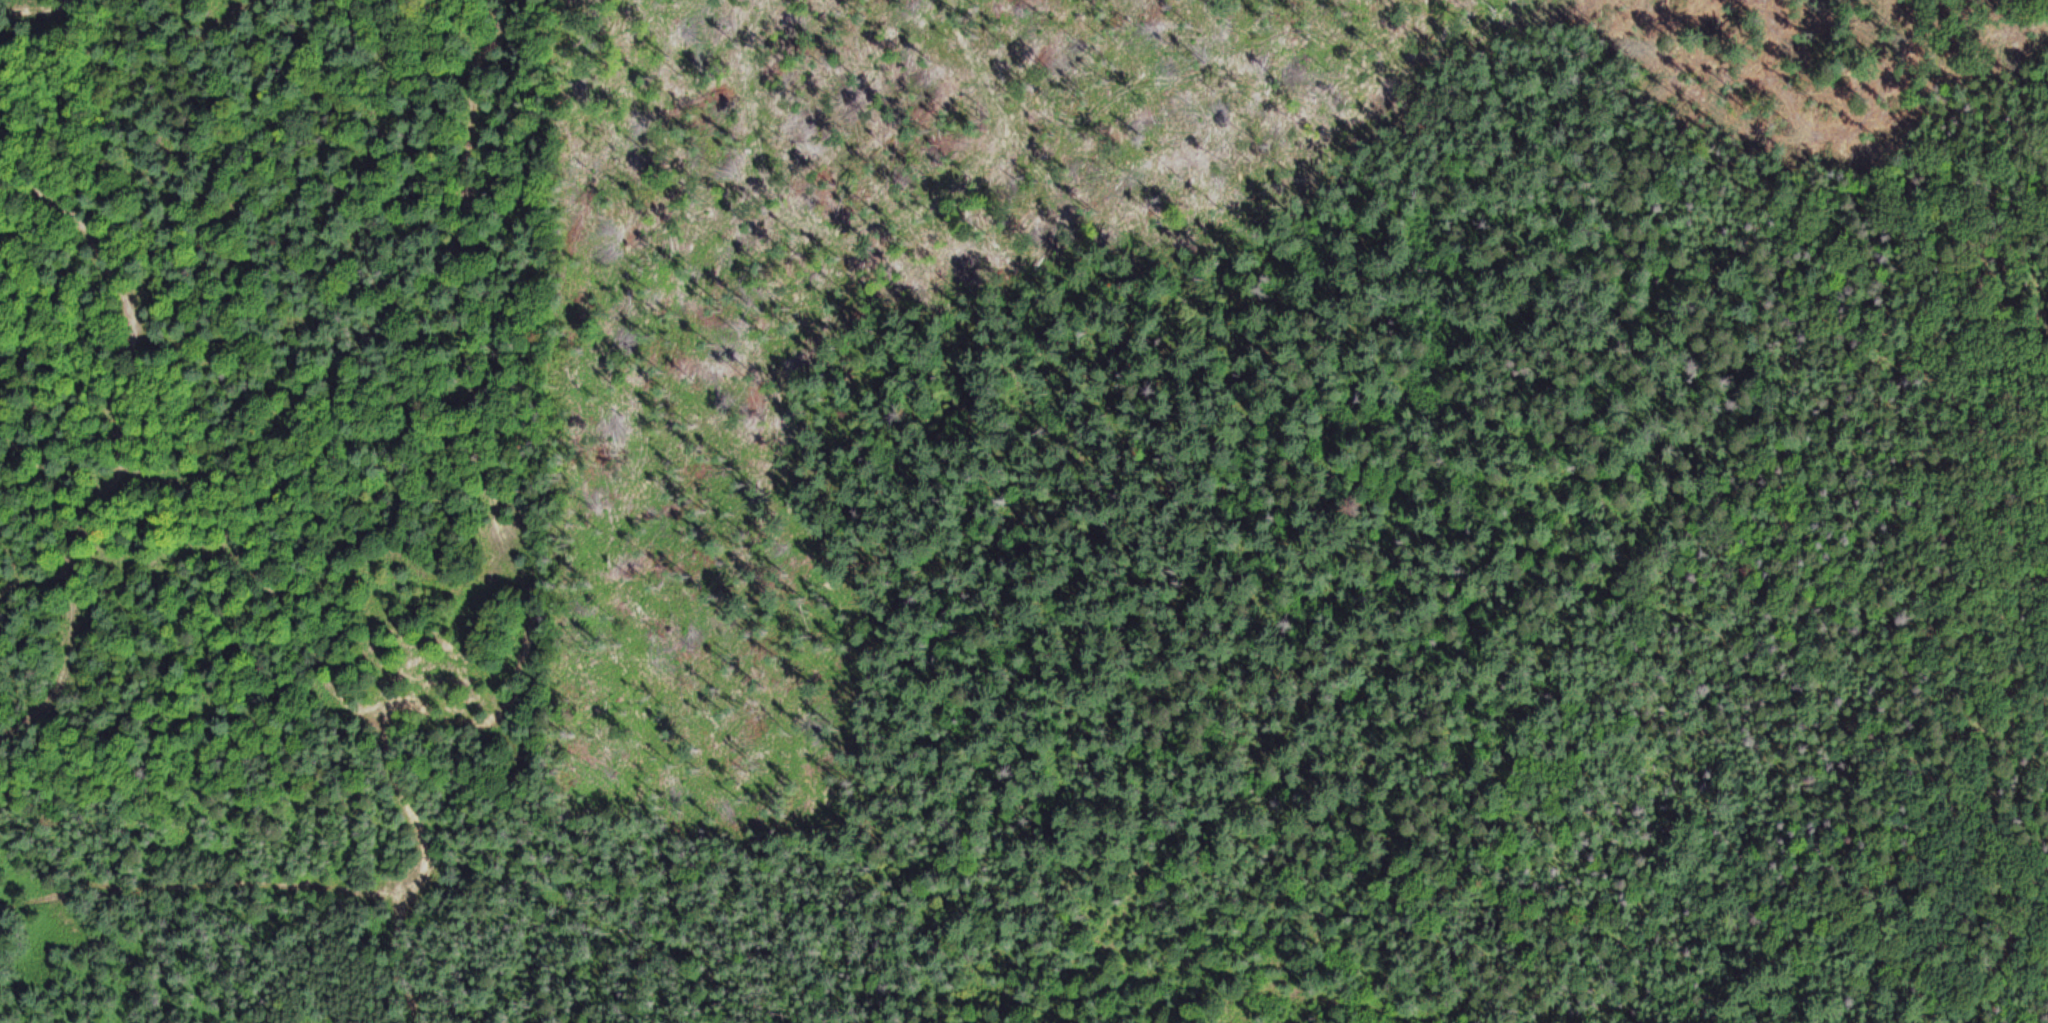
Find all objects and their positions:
road: (115, 446)

